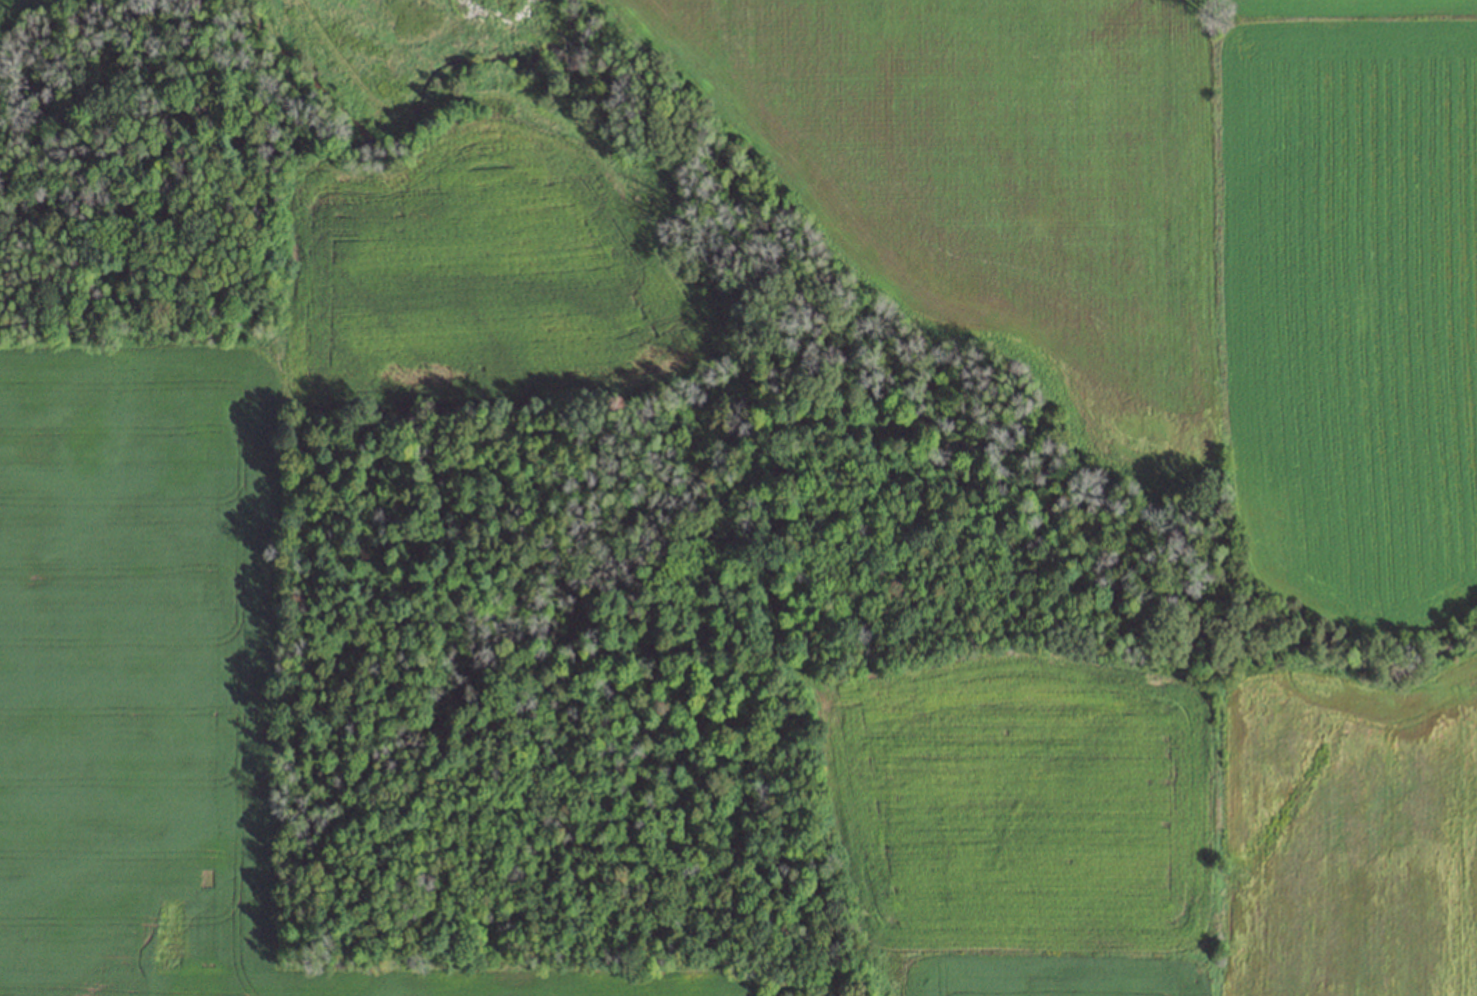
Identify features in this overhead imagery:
crop: (4, 7)
crop: (405, 48)
crop: (1160, 467)
crop: (159, 675)

